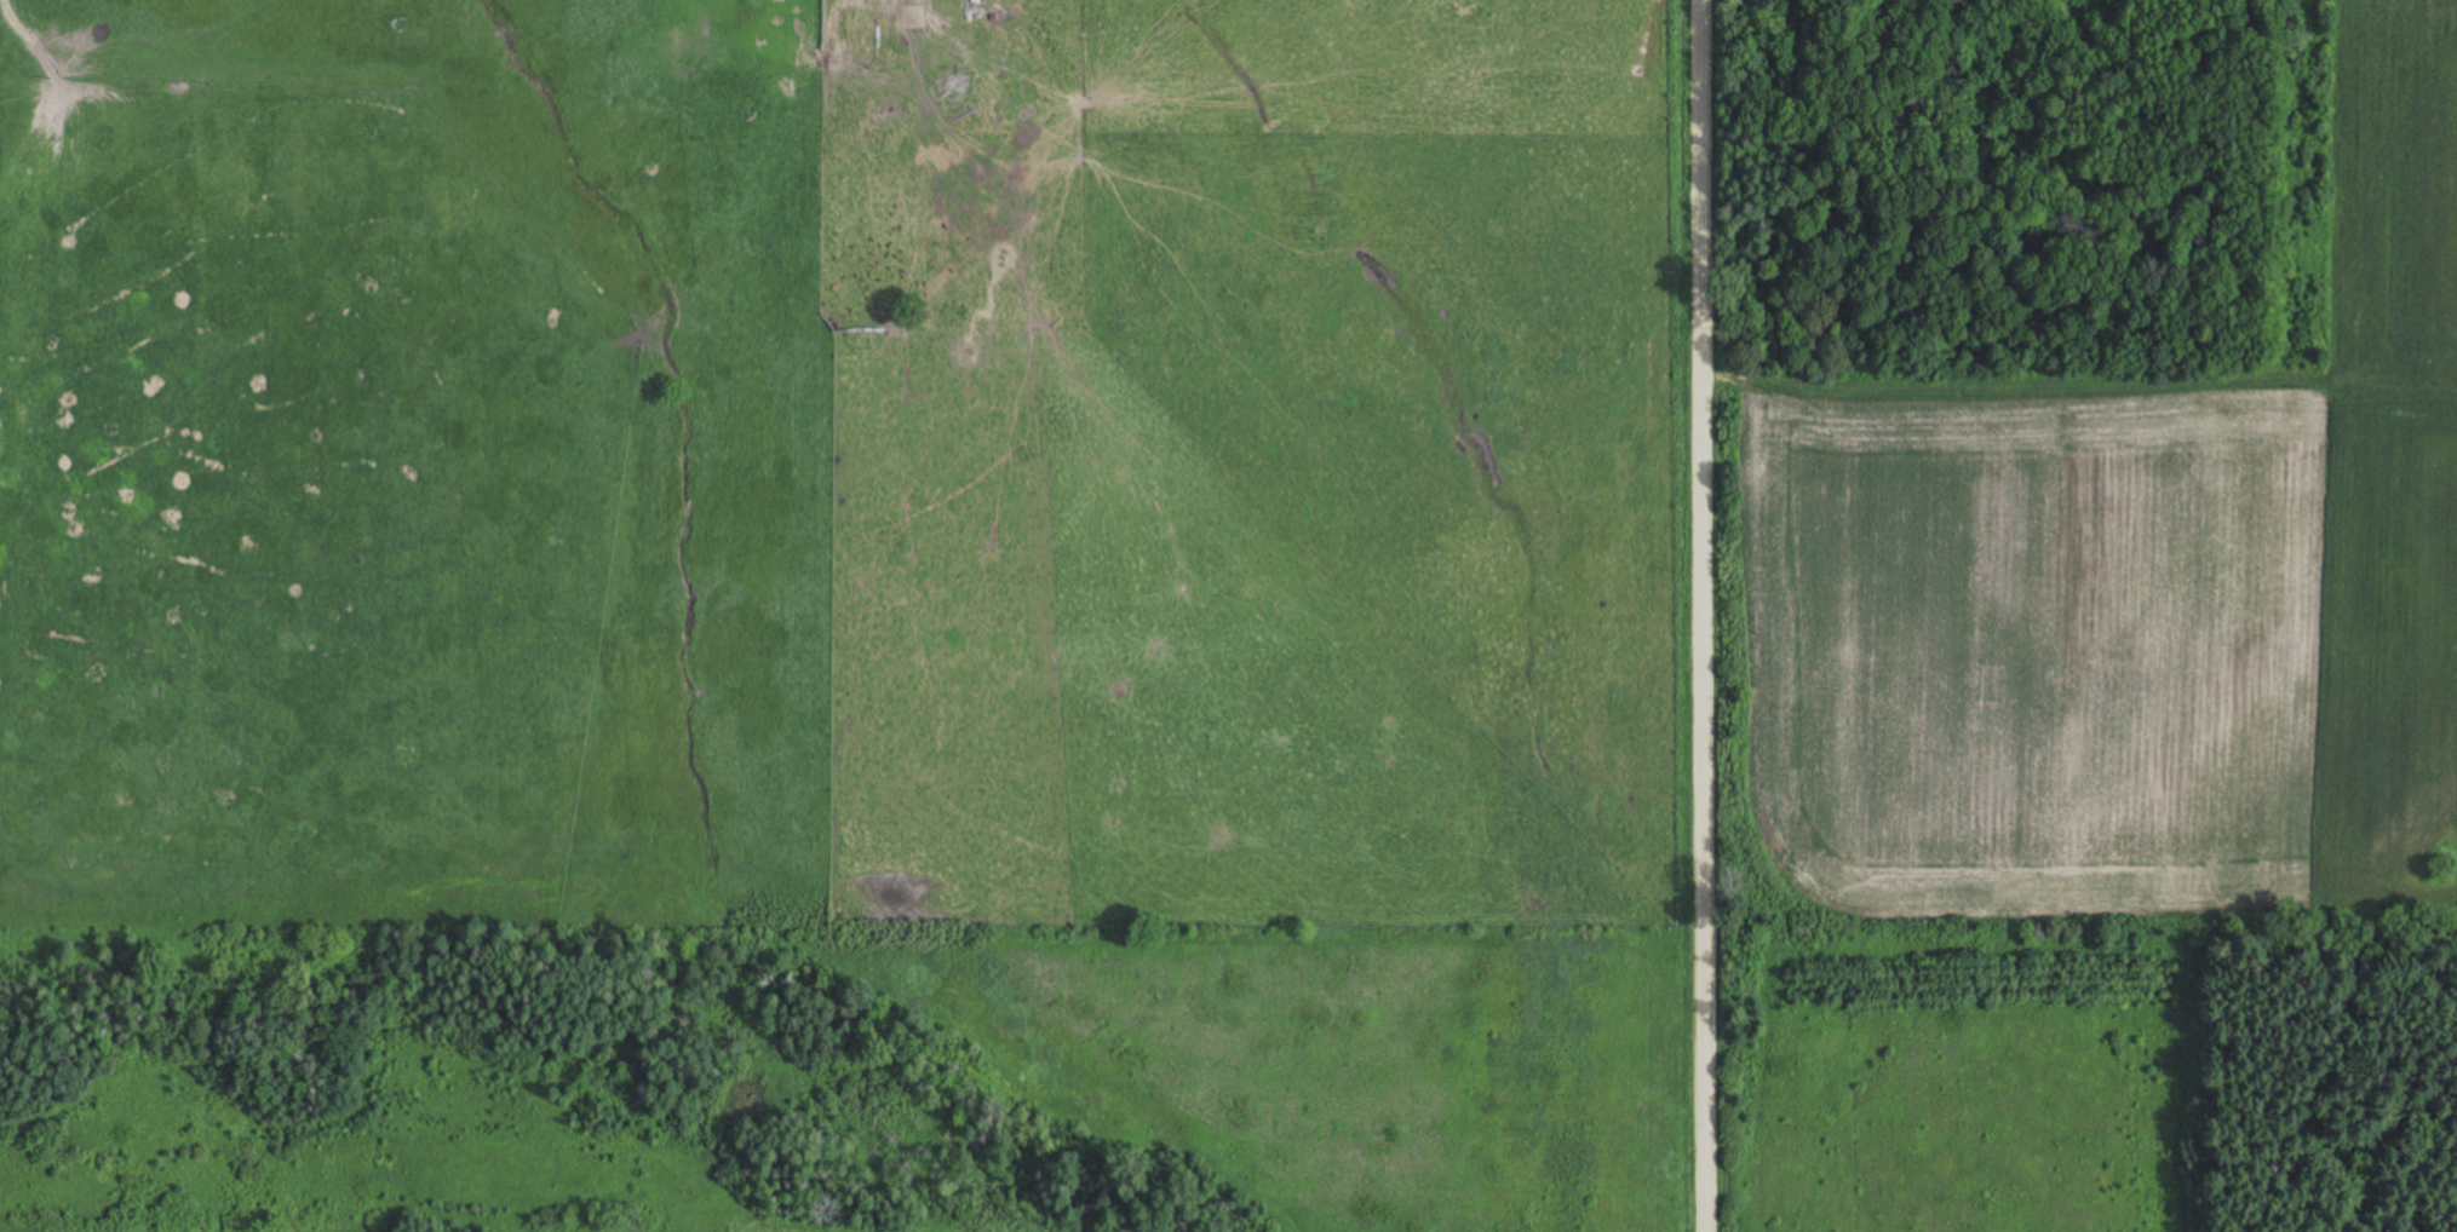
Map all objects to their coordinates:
road: (1694, 615)

